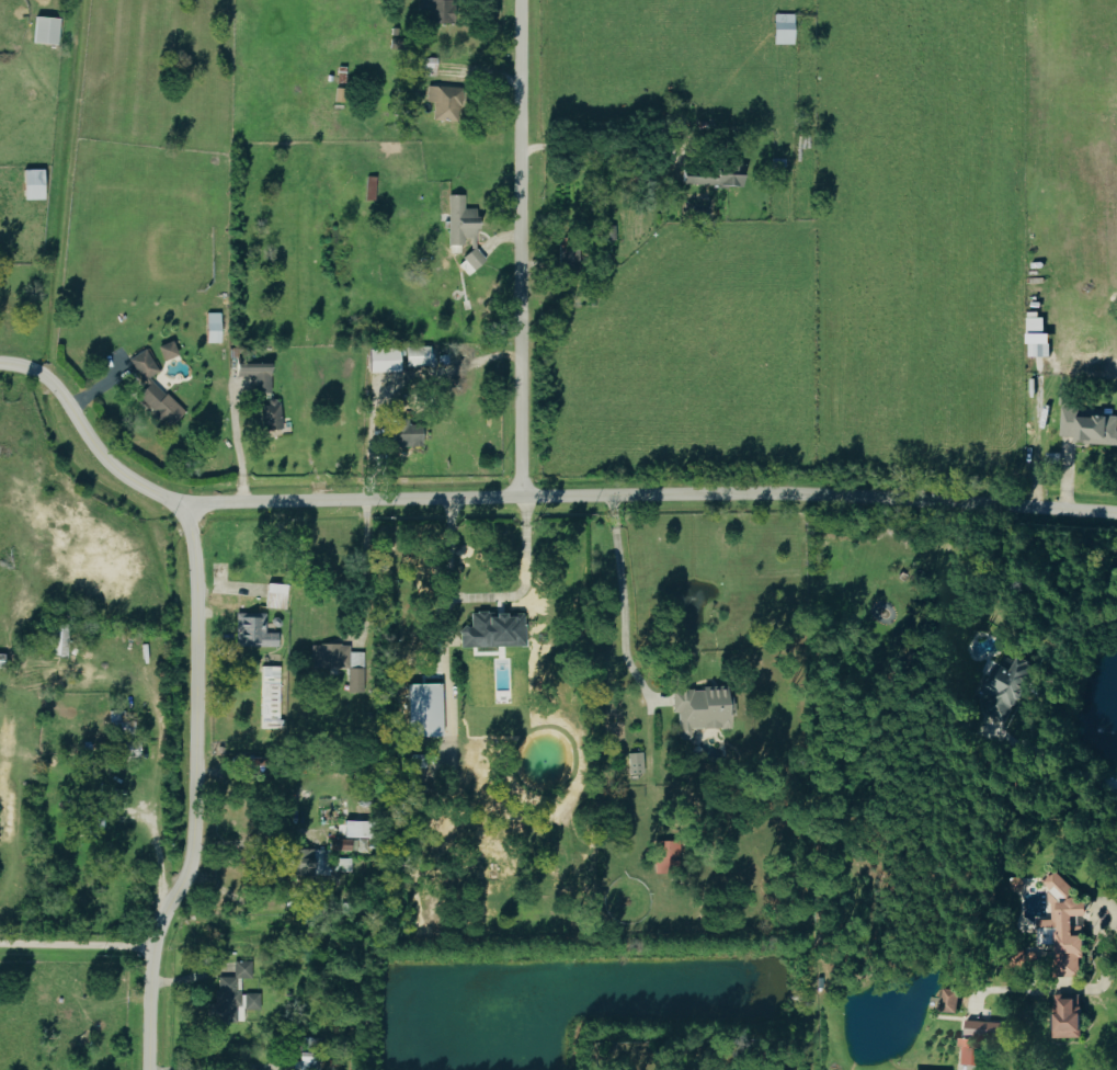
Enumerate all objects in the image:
building: (436, 9)
building: (44, 29)
building: (783, 29)
building: (426, 65)
road: (1, 67)
building: (444, 102)
road: (596, 144)
building: (715, 175)
building: (31, 183)
building: (459, 219)
road: (523, 247)
building: (570, 251)
building: (470, 260)
building: (213, 327)
building: (1036, 337)
building: (167, 350)
building: (408, 356)
building: (255, 374)
building: (153, 389)
building: (1087, 426)
building: (406, 431)
road: (89, 436)
road: (238, 444)
road: (652, 493)
road: (366, 572)
road: (485, 594)
road: (625, 606)
building: (253, 629)
building: (492, 630)
building: (57, 639)
building: (334, 656)
building: (355, 679)
road: (443, 684)
building: (1002, 685)
building: (269, 696)
building: (700, 709)
building: (424, 710)
road: (158, 762)
building: (635, 762)
road: (1071, 772)
road: (196, 793)
building: (352, 829)
building: (341, 844)
building: (298, 862)
building: (343, 864)
building: (1063, 926)
road: (77, 943)
building: (231, 997)
building: (947, 1001)
building: (1065, 1016)
building: (976, 1028)
building: (965, 1052)

